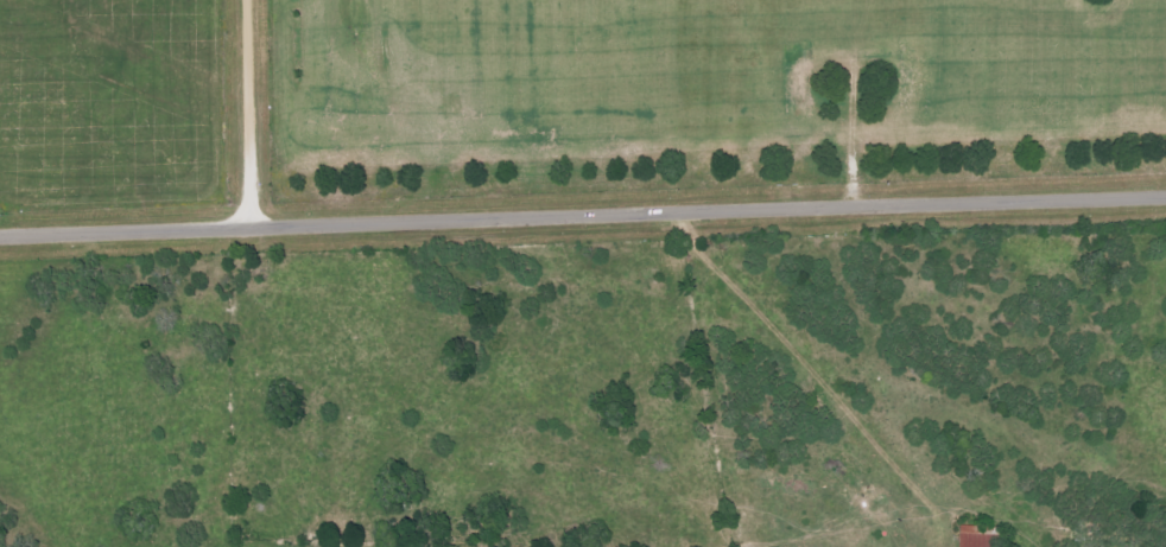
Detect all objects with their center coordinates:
road: (248, 112)
road: (582, 214)

